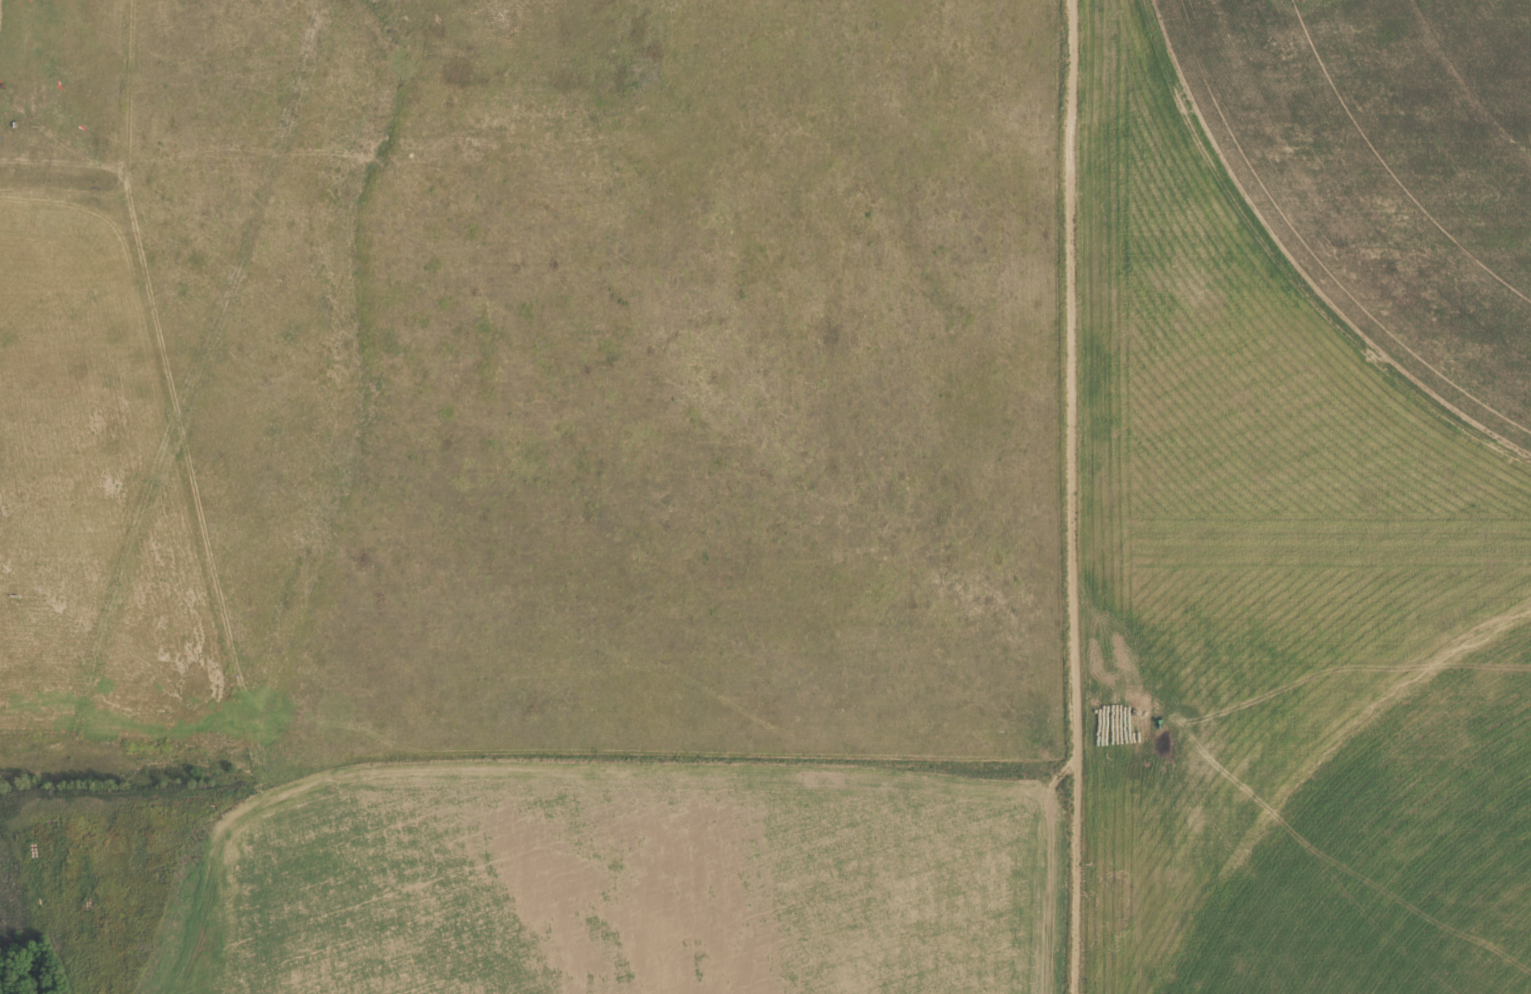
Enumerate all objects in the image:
road: (1059, 496)

